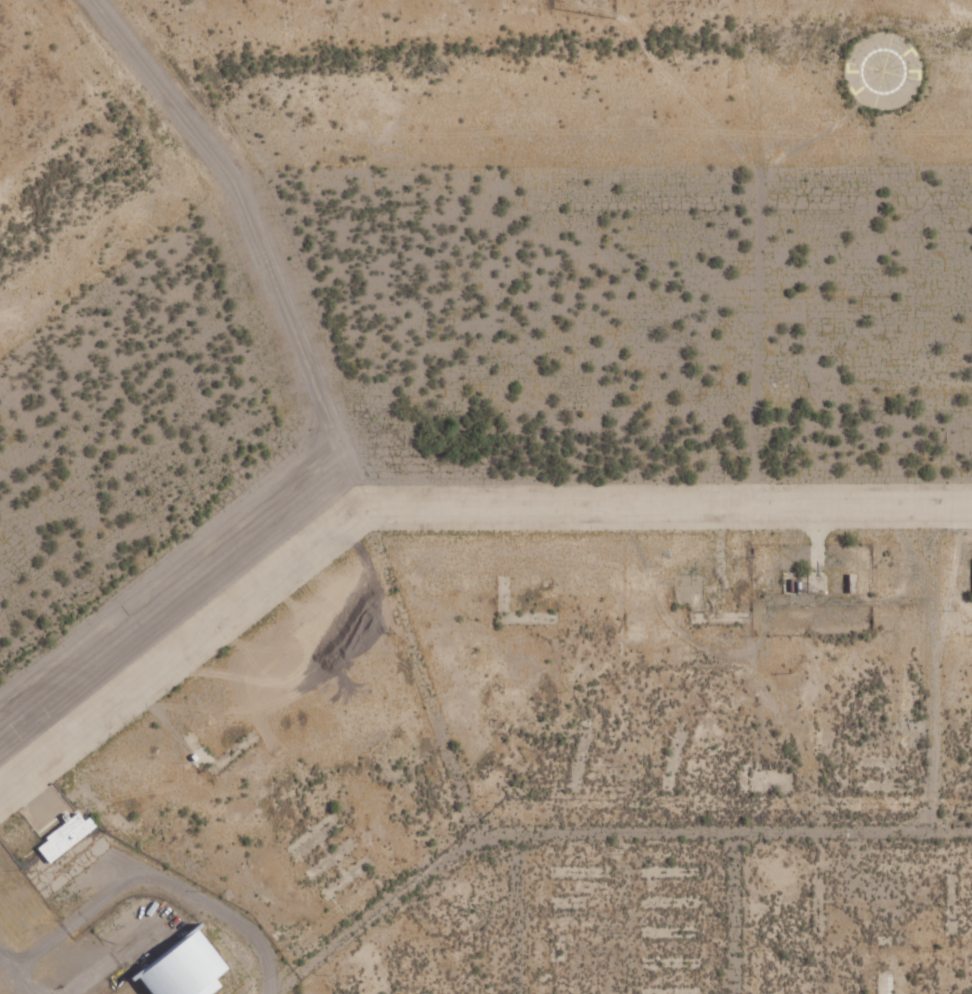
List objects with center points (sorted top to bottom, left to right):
airport taxiway: (255, 239)
airport taxiway: (436, 511)
building: (67, 836)
building: (189, 967)

